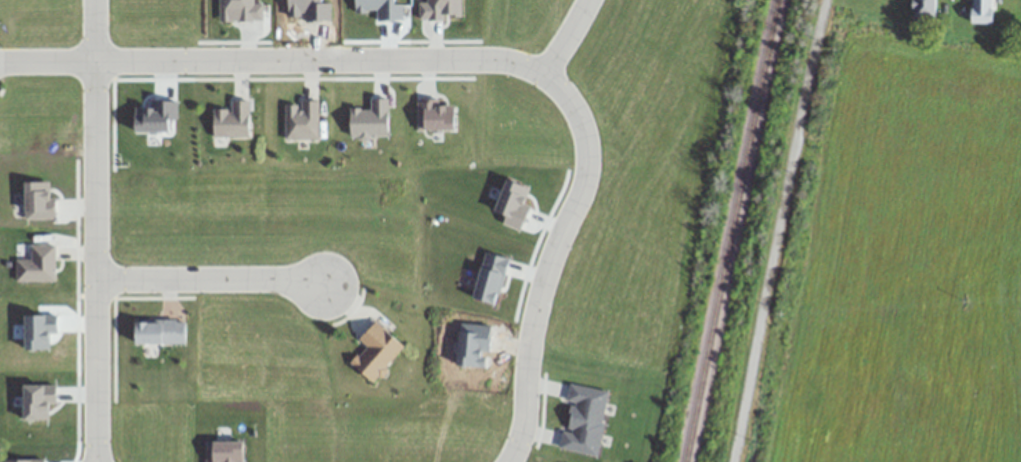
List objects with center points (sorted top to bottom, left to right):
building: (923, 8)
road: (93, 30)
road: (564, 37)
road: (273, 59)
building: (231, 120)
building: (300, 120)
railway: (725, 231)
road: (775, 231)
road: (94, 261)
road: (547, 261)
building: (36, 265)
road: (208, 278)
building: (159, 332)
building: (375, 351)
building: (582, 419)

